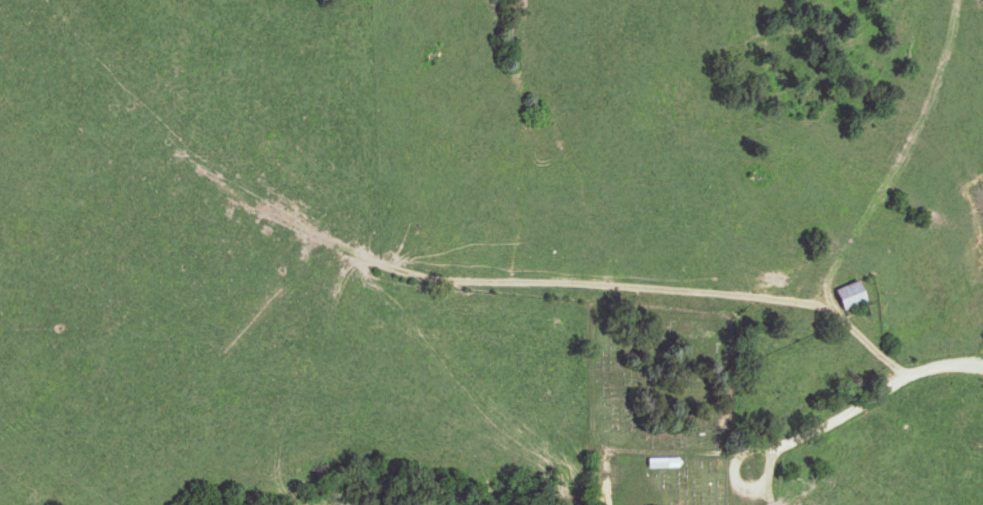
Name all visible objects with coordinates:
building: (856, 294)
road: (969, 394)
park: (656, 403)
road: (817, 430)

